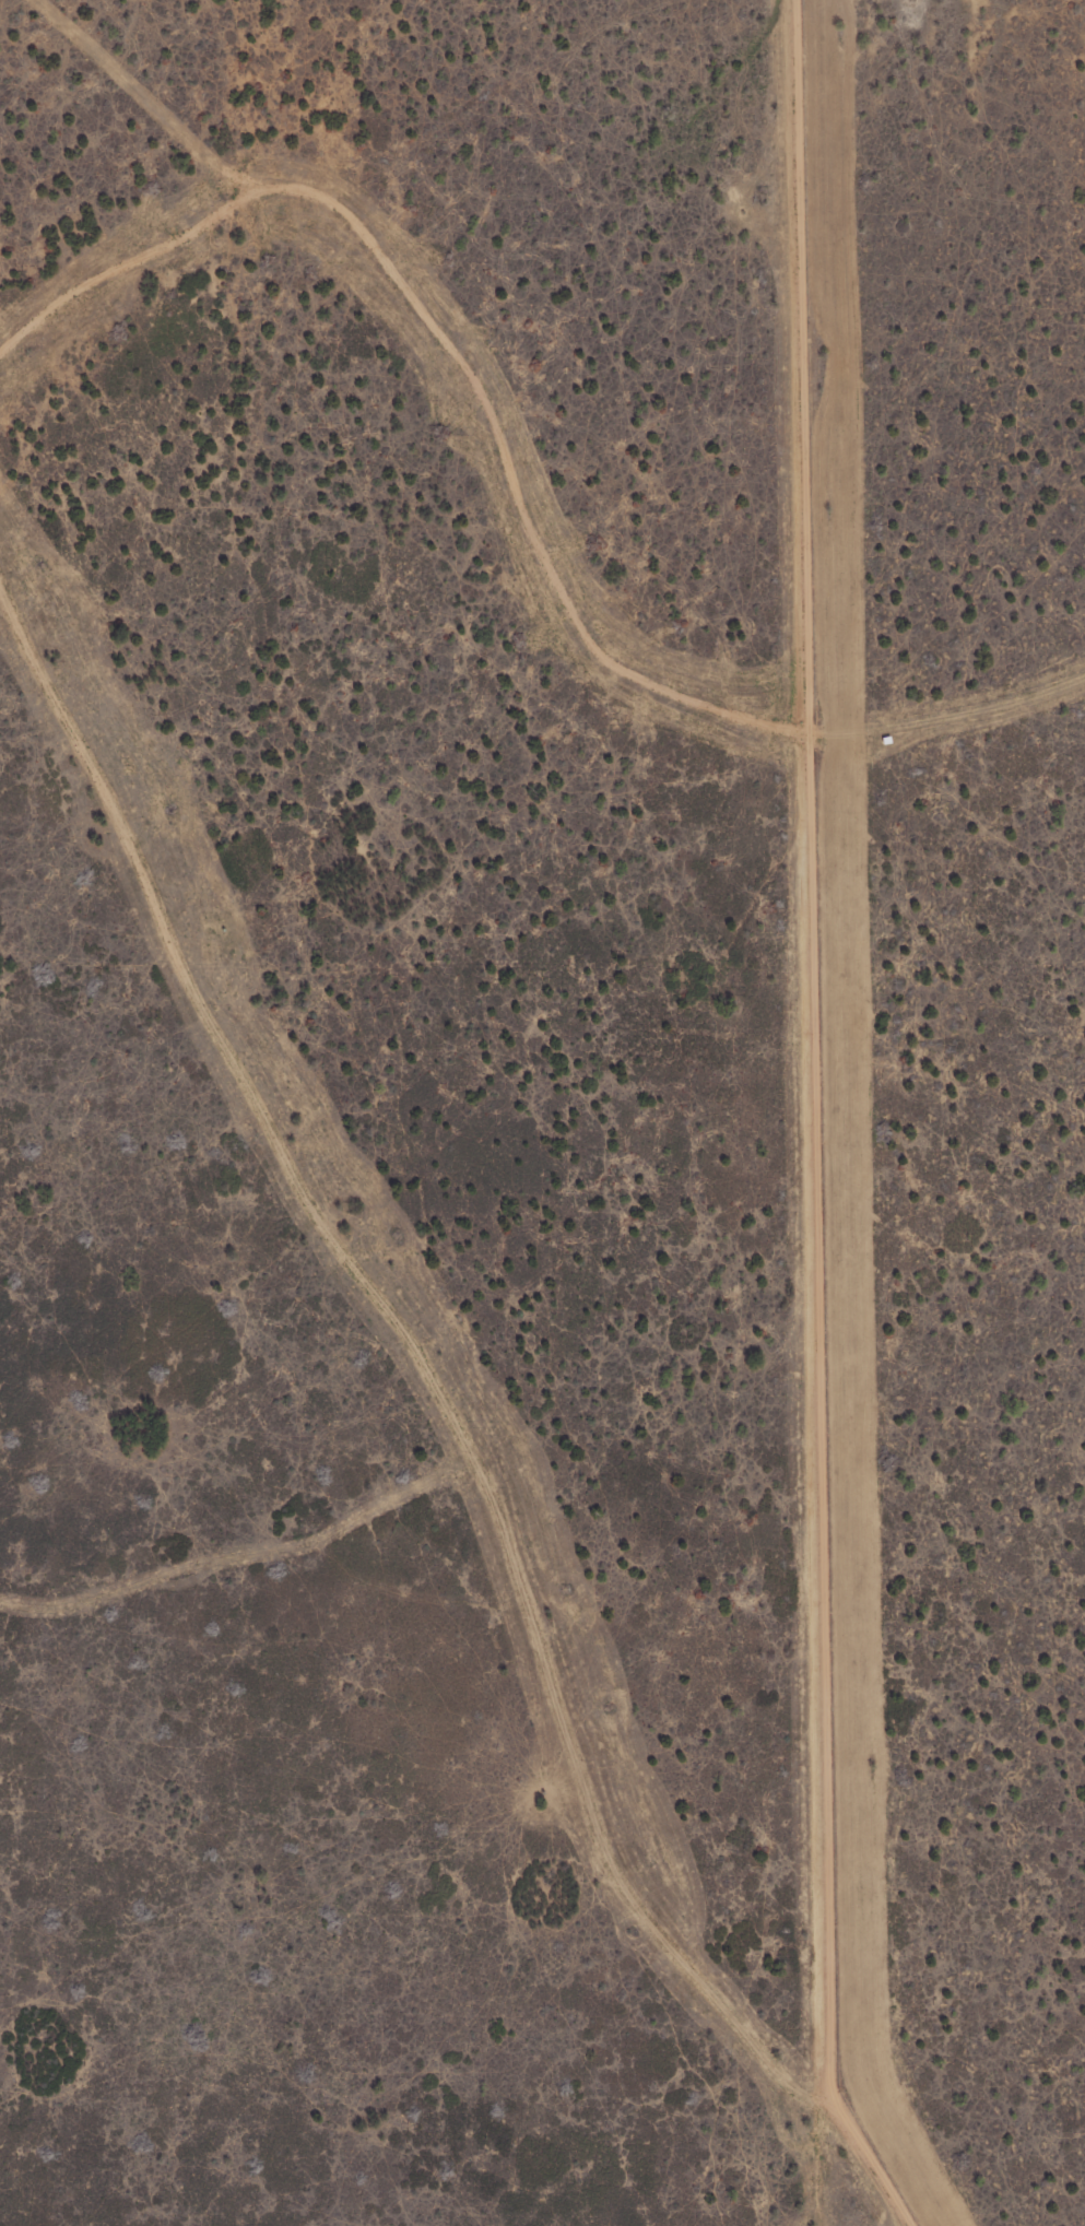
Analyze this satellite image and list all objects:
road: (774, 1132)

